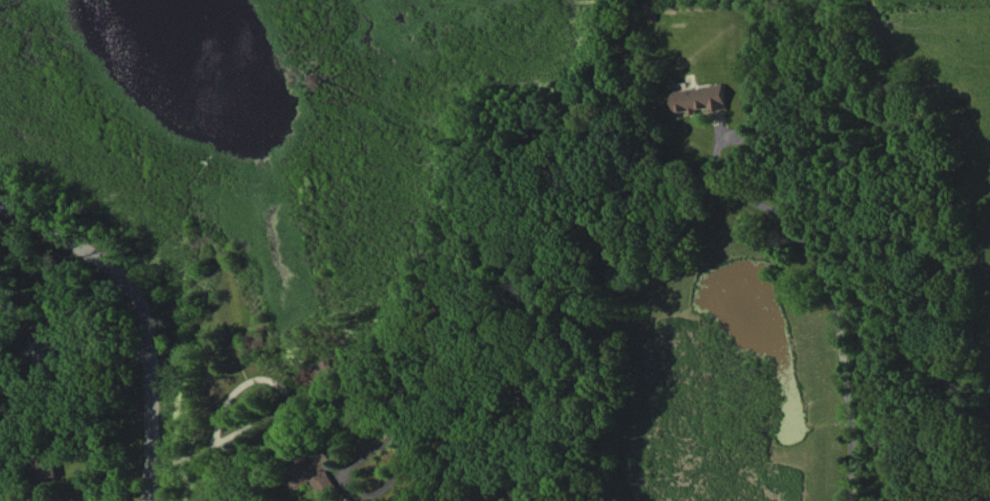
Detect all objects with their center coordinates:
building: (699, 98)
road: (830, 296)
road: (132, 314)
building: (45, 348)
road: (275, 406)
building: (45, 466)
building: (314, 475)

